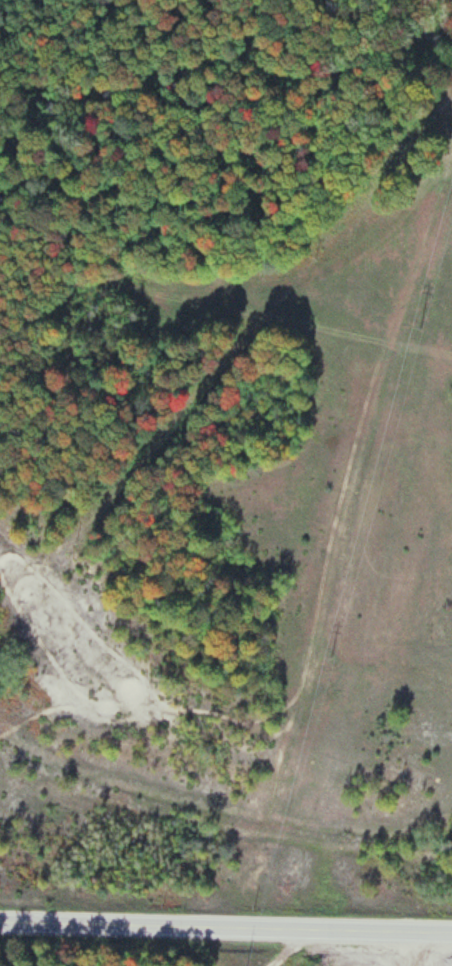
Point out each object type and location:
road: (225, 928)

